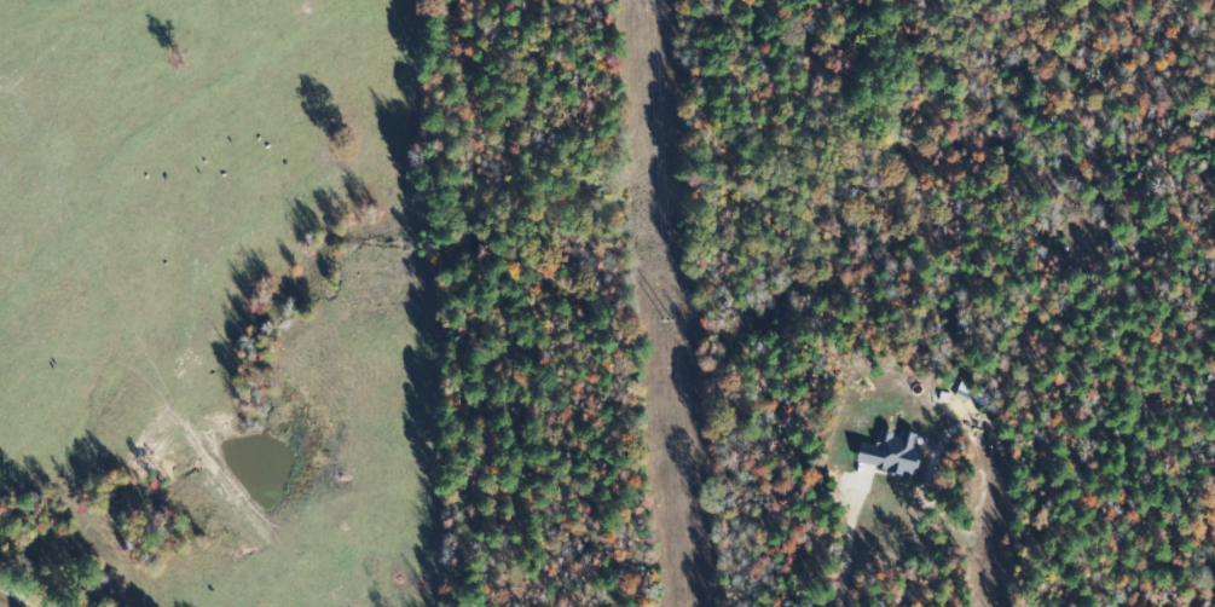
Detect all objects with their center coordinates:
road: (25, 594)

